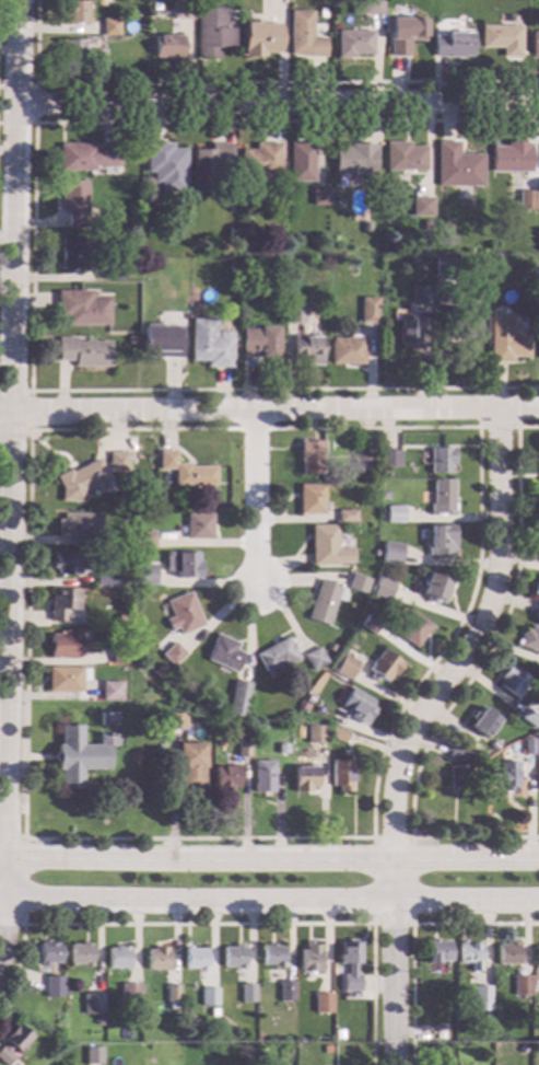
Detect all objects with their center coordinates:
building: (102, 2)
building: (365, 7)
building: (74, 10)
building: (180, 10)
building: (319, 12)
building: (108, 26)
building: (211, 32)
building: (403, 34)
building: (304, 35)
building: (260, 37)
building: (501, 38)
building: (352, 43)
building: (535, 43)
building: (453, 44)
building: (167, 46)
building: (71, 51)
building: (95, 57)
road: (245, 82)
road: (36, 85)
road: (277, 101)
road: (17, 124)
building: (85, 157)
building: (403, 157)
building: (509, 157)
building: (354, 160)
building: (300, 161)
building: (538, 163)
building: (208, 165)
building: (456, 165)
building: (165, 166)
building: (257, 166)
building: (318, 195)
building: (524, 199)
building: (73, 201)
building: (420, 206)
building: (424, 225)
building: (363, 227)
building: (243, 231)
building: (73, 253)
road: (33, 258)
building: (497, 261)
building: (444, 265)
building: (464, 268)
building: (232, 269)
building: (113, 270)
building: (420, 294)
building: (81, 308)
building: (367, 310)
building: (293, 312)
building: (460, 323)
building: (407, 334)
building: (130, 339)
building: (504, 339)
building: (161, 342)
building: (208, 343)
building: (257, 345)
building: (538, 345)
building: (306, 349)
building: (345, 349)
building: (82, 351)
road: (31, 410)
road: (268, 410)
road: (497, 427)
road: (254, 428)
building: (309, 455)
building: (388, 458)
building: (440, 460)
building: (363, 461)
building: (185, 470)
road: (9, 471)
building: (89, 475)
building: (383, 495)
building: (441, 496)
road: (255, 498)
building: (310, 498)
building: (394, 513)
building: (345, 514)
building: (198, 525)
building: (78, 528)
building: (144, 540)
building: (440, 541)
building: (326, 546)
building: (391, 552)
building: (68, 563)
building: (183, 564)
building: (145, 574)
building: (103, 576)
building: (120, 582)
building: (356, 582)
building: (383, 587)
building: (434, 587)
building: (536, 588)
building: (324, 601)
building: (61, 603)
building: (538, 607)
building: (181, 613)
building: (119, 621)
building: (367, 624)
building: (411, 628)
building: (126, 638)
building: (530, 638)
building: (67, 645)
building: (328, 647)
building: (119, 652)
building: (172, 653)
building: (223, 653)
building: (276, 655)
building: (314, 658)
building: (382, 665)
building: (344, 667)
building: (159, 671)
building: (269, 674)
building: (65, 679)
building: (511, 680)
road: (465, 686)
building: (110, 690)
building: (235, 697)
building: (198, 699)
building: (355, 706)
building: (528, 717)
building: (107, 718)
building: (176, 720)
building: (481, 721)
building: (244, 727)
road: (412, 728)
building: (315, 734)
building: (337, 734)
building: (491, 745)
building: (527, 745)
building: (242, 748)
building: (279, 748)
building: (457, 753)
building: (81, 754)
building: (190, 765)
building: (339, 774)
building: (502, 775)
building: (262, 776)
building: (225, 777)
building: (457, 777)
building: (303, 778)
building: (538, 778)
road: (214, 838)
road: (269, 859)
road: (24, 881)
road: (412, 882)
road: (269, 903)
road: (229, 924)
road: (411, 930)
building: (435, 951)
building: (48, 953)
building: (507, 953)
building: (80, 954)
building: (270, 954)
building: (469, 954)
building: (536, 956)
building: (117, 957)
building: (232, 957)
building: (194, 958)
building: (156, 959)
building: (308, 959)
building: (349, 964)
building: (520, 985)
building: (52, 986)
building: (284, 991)
building: (246, 993)
building: (129, 995)
building: (480, 995)
building: (172, 996)
building: (208, 997)
building: (320, 1003)
building: (60, 1004)
building: (92, 1004)
building: (484, 1015)
building: (97, 1020)
building: (435, 1031)
building: (337, 1034)
building: (211, 1037)
building: (13, 1043)
building: (325, 1049)
building: (505, 1050)
building: (92, 1055)

